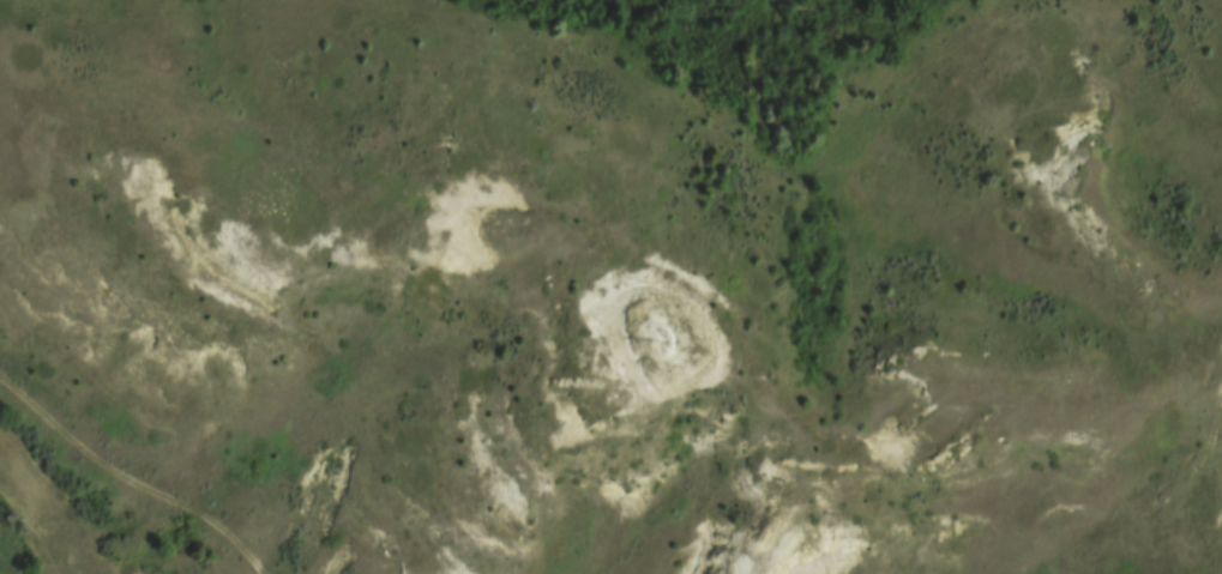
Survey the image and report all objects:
road: (1192, 50)
road: (128, 479)
road: (1169, 494)

